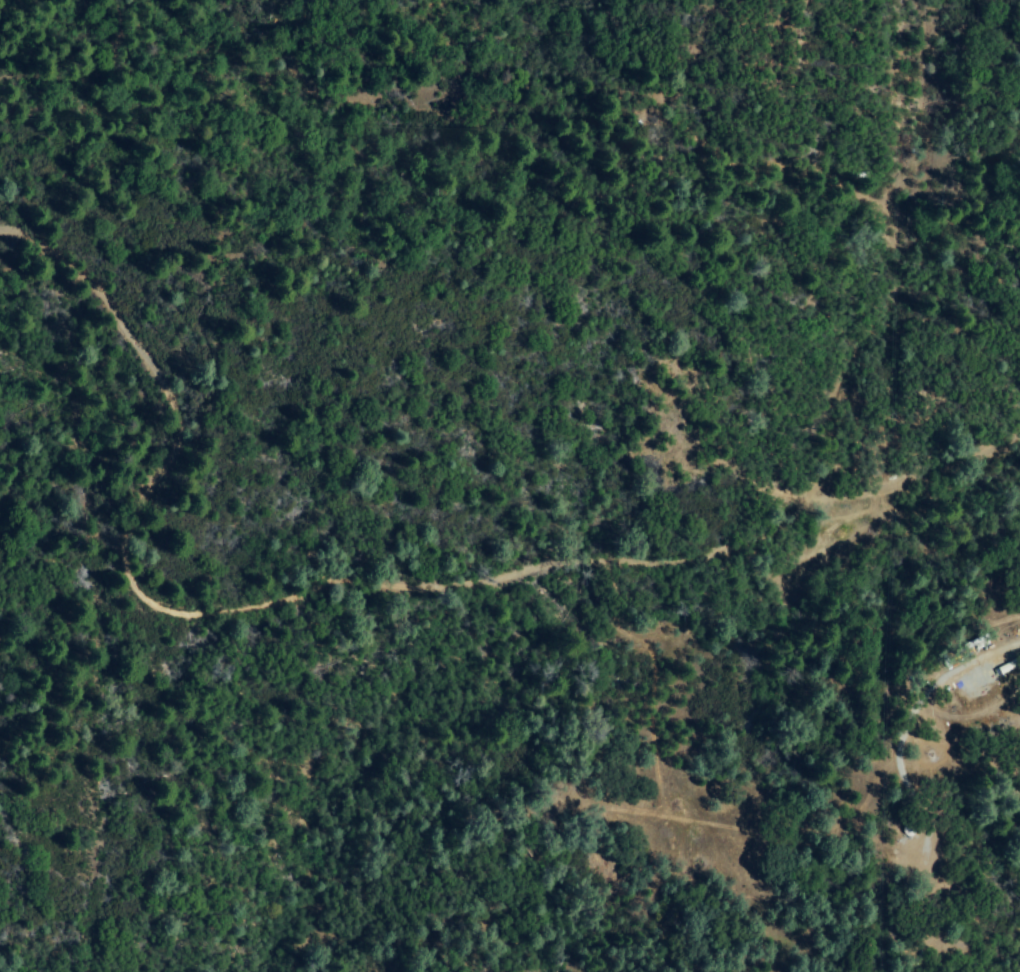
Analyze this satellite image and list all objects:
road: (355, 583)

